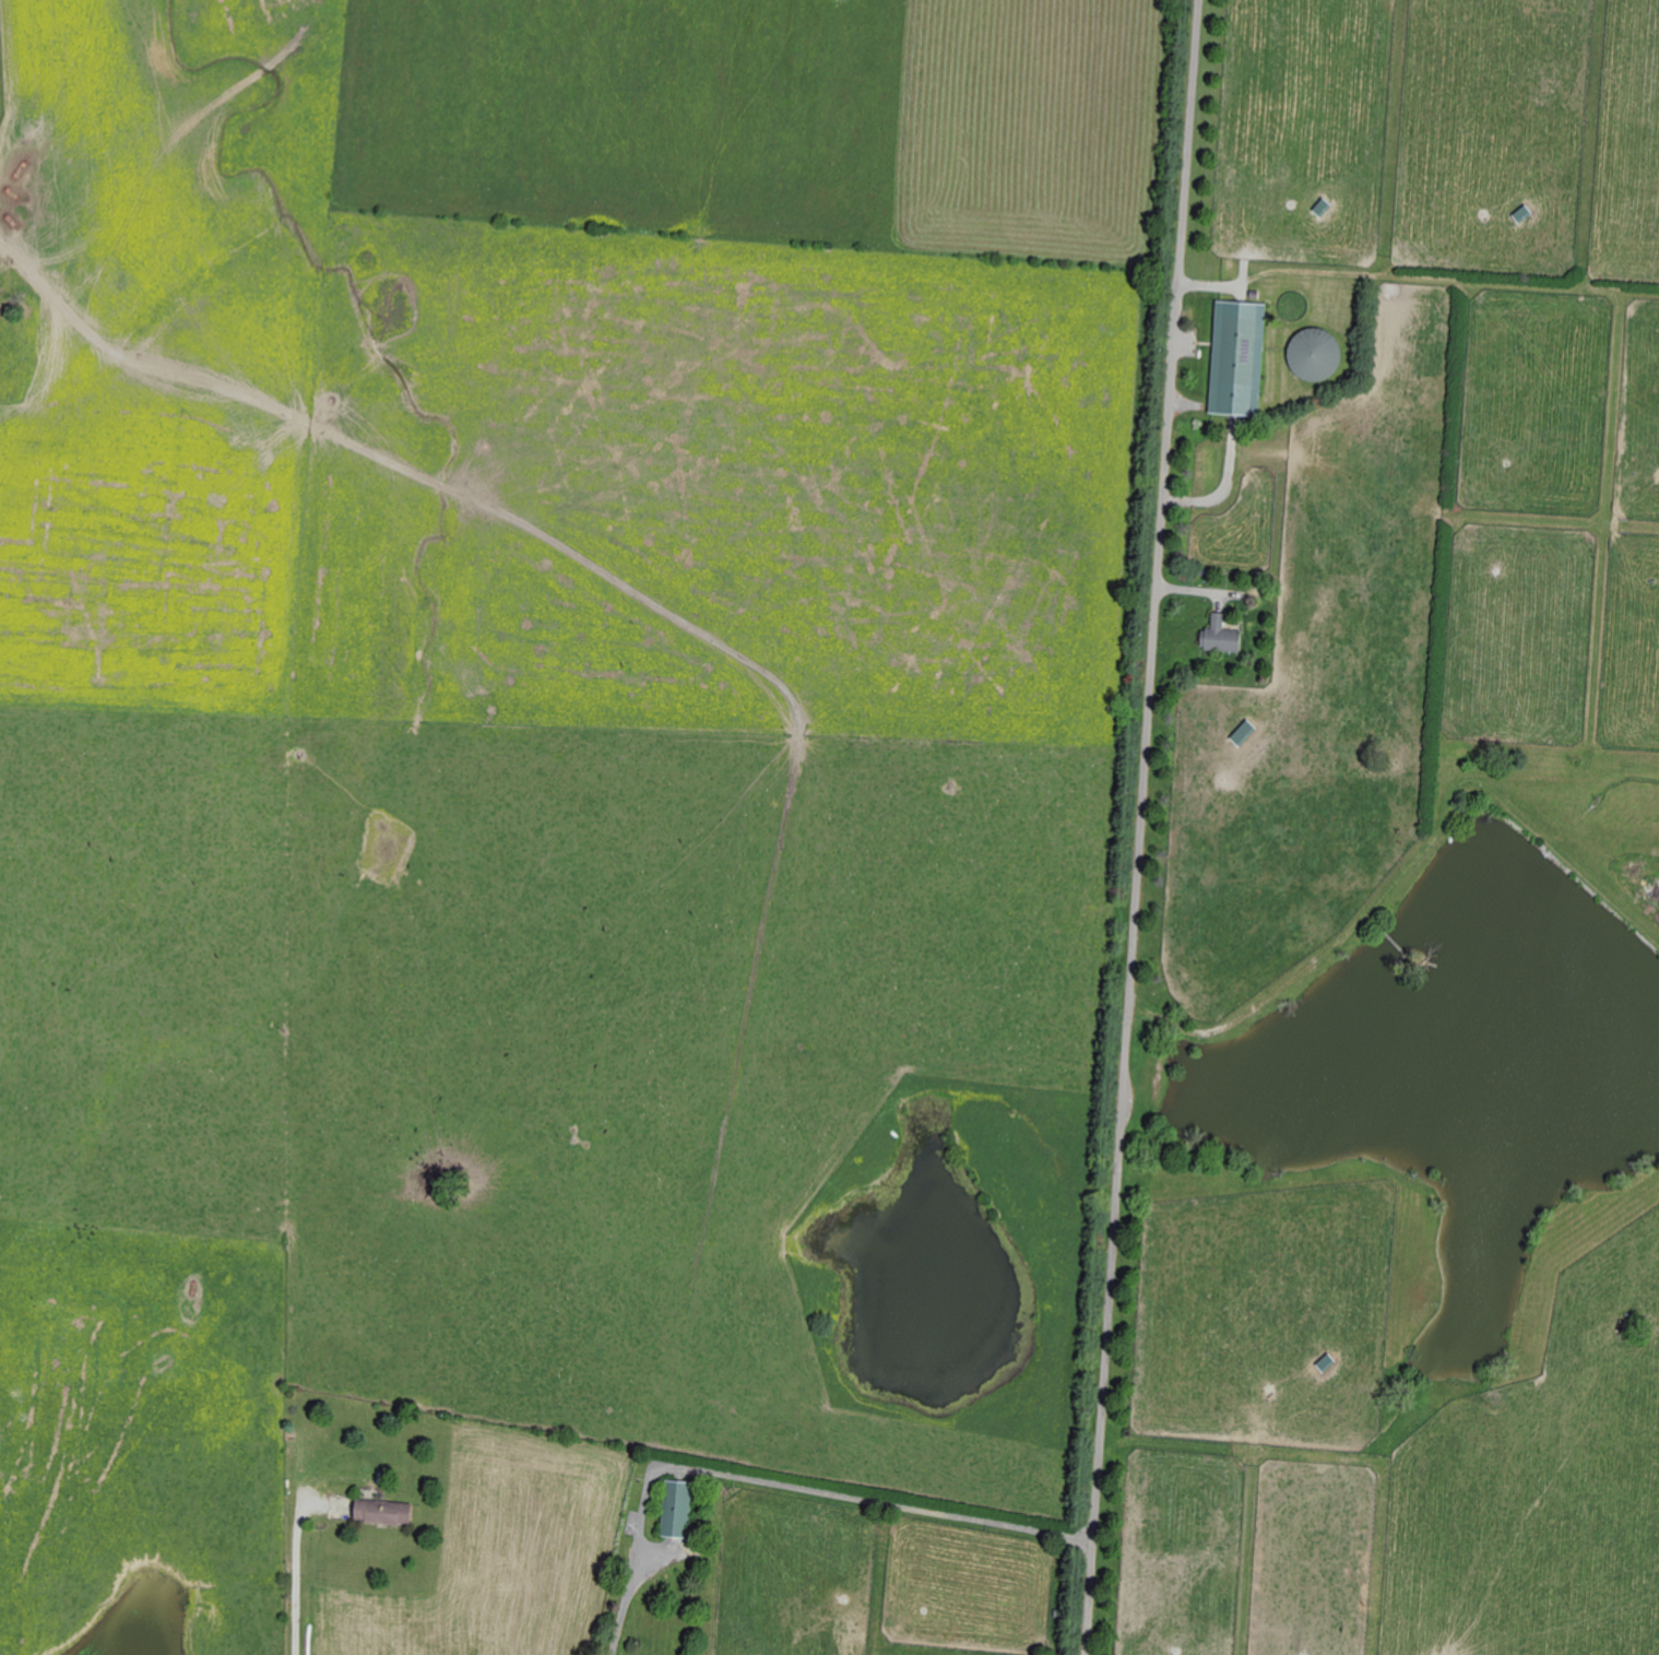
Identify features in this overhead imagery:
building: (1520, 215)
building: (1235, 359)
building: (1217, 638)
building: (1241, 734)
road: (1140, 827)
road: (779, 1481)
building: (674, 1510)
building: (380, 1512)
road: (296, 1579)

